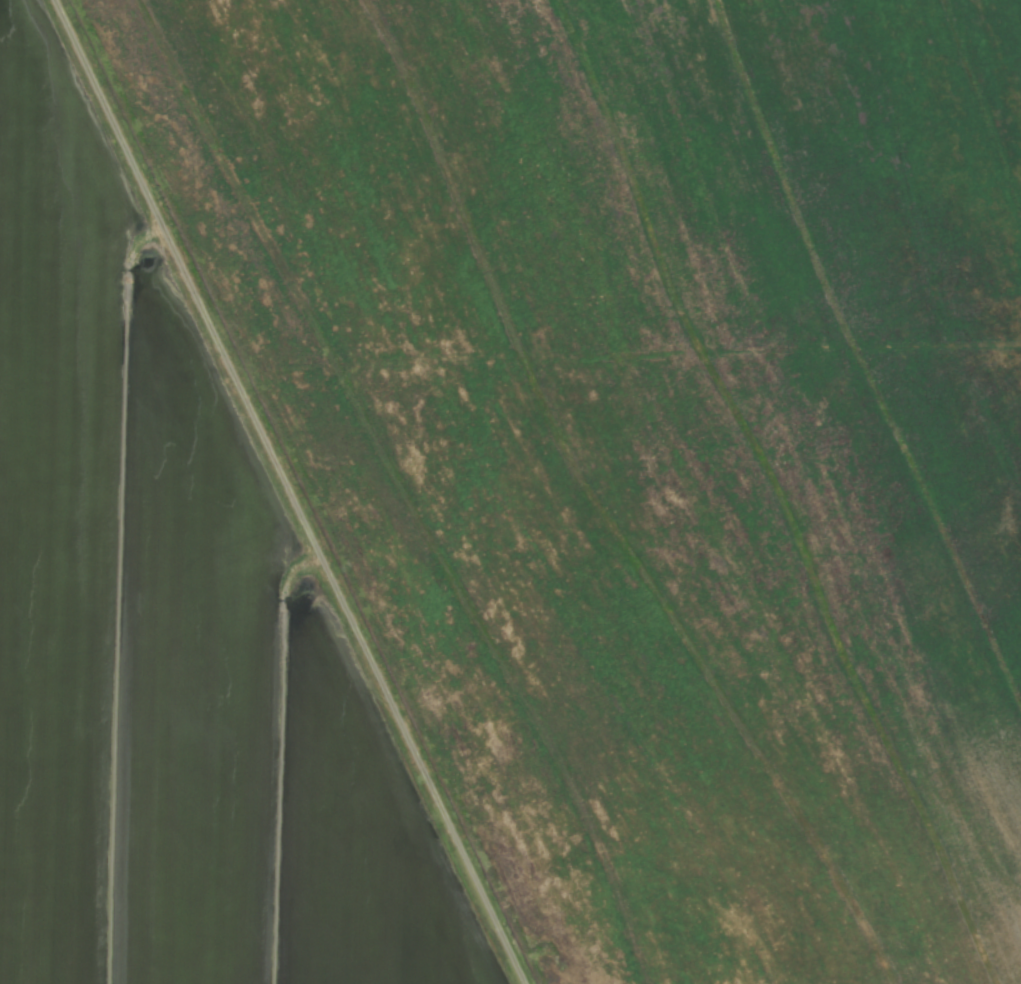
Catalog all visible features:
crop: (510, 492)

